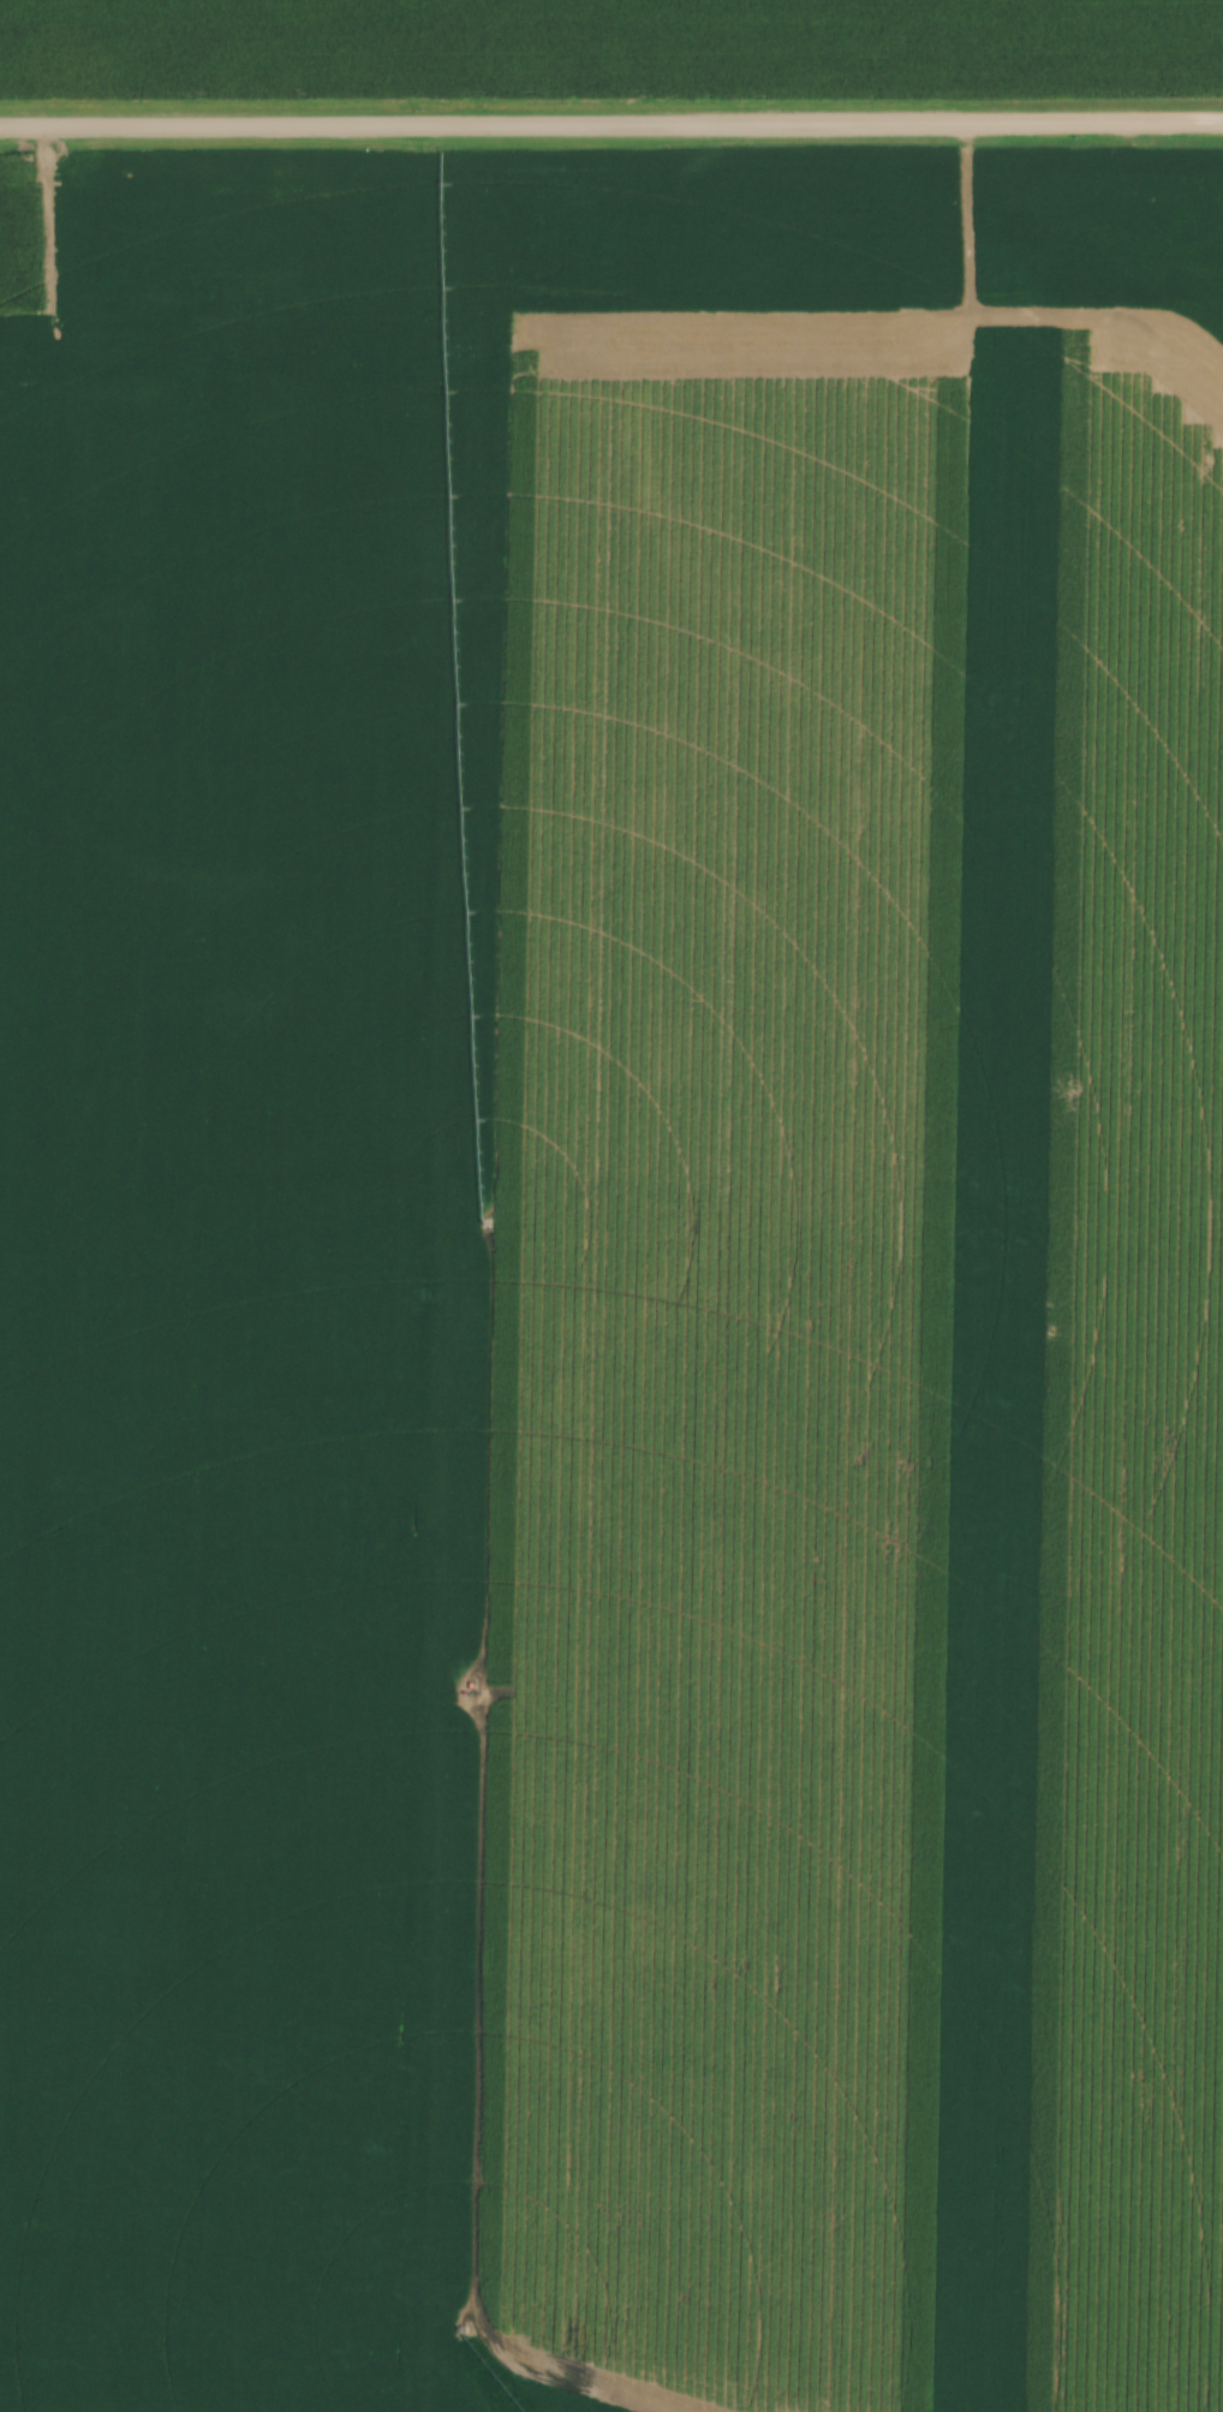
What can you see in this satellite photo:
road: (610, 125)

